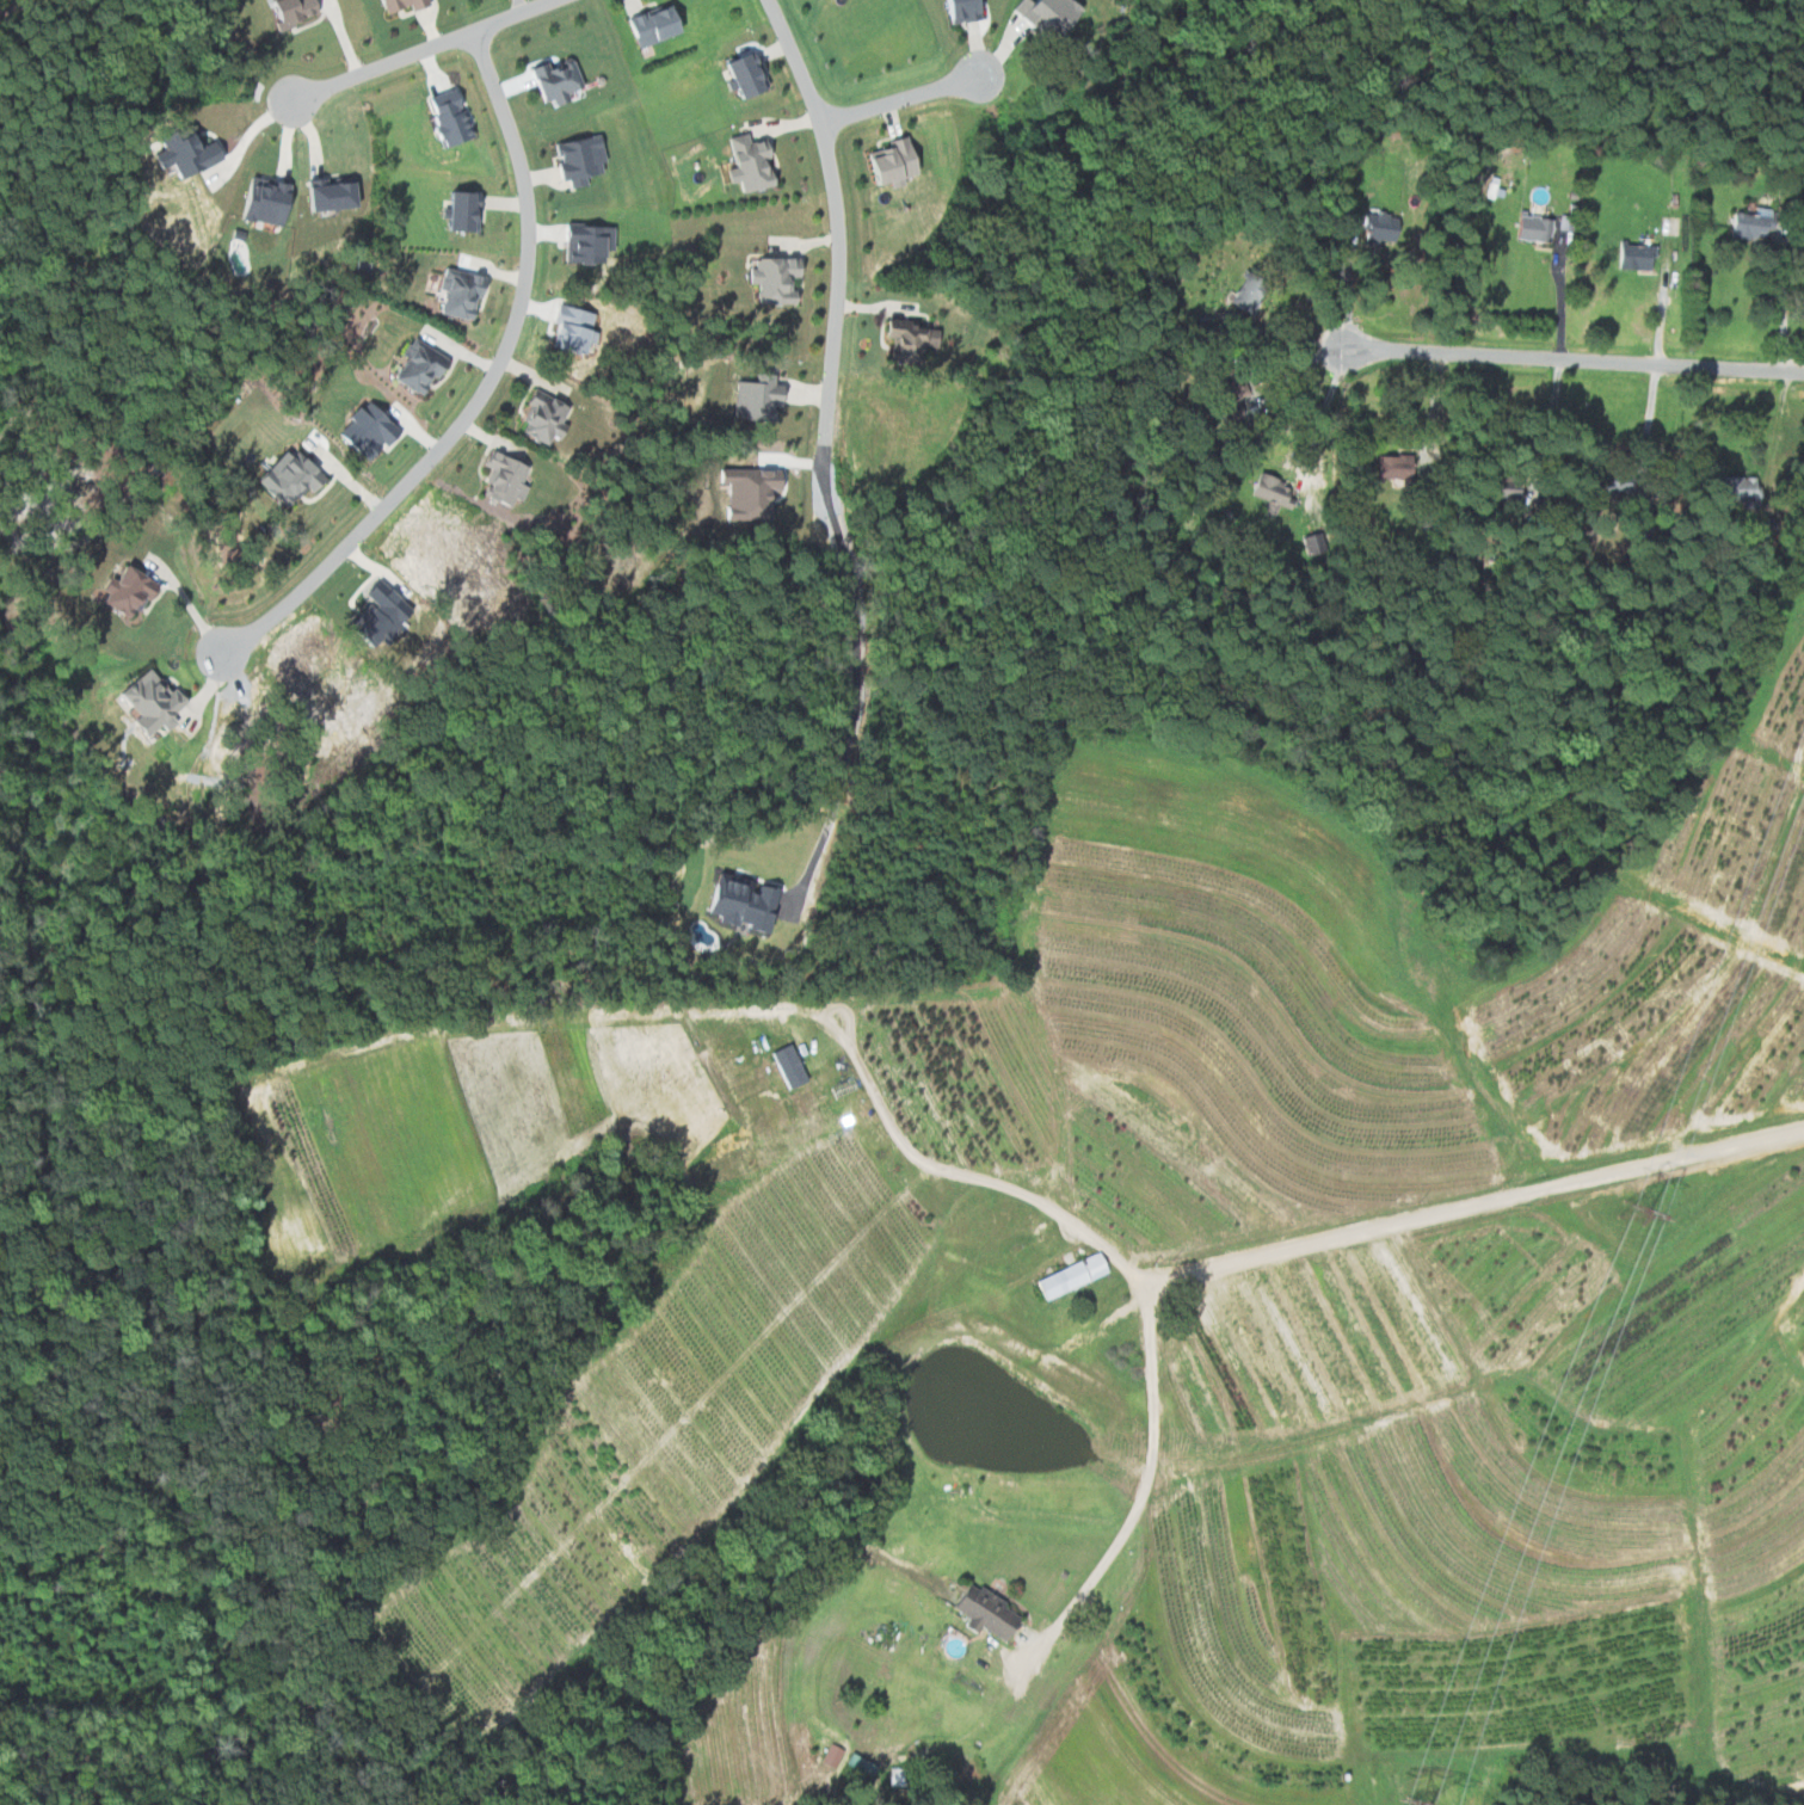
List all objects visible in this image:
building: (411, 5)
building: (968, 11)
building: (297, 12)
building: (1054, 14)
building: (660, 25)
road: (426, 50)
building: (562, 81)
road: (897, 99)
building: (193, 153)
building: (586, 159)
building: (900, 161)
building: (756, 164)
building: (341, 195)
building: (271, 202)
building: (472, 212)
building: (1747, 224)
building: (1529, 228)
building: (592, 244)
road: (835, 250)
building: (1632, 257)
building: (782, 281)
road: (1346, 285)
road: (1560, 296)
road: (1662, 300)
road: (1783, 316)
road: (1287, 335)
building: (916, 341)
road: (1574, 361)
building: (425, 368)
road: (1294, 372)
road: (482, 392)
building: (763, 399)
road: (1325, 411)
road: (1434, 415)
building: (549, 417)
road: (1649, 426)
road: (1545, 464)
building: (1393, 467)
building: (297, 478)
building: (510, 479)
building: (1732, 487)
building: (1268, 491)
building: (134, 592)
road: (192, 608)
building: (158, 702)
road: (846, 707)
building: (795, 1065)
road: (984, 1178)
road: (1495, 1201)
power tower: (1630, 1212)
building: (1078, 1275)
road: (1149, 1481)
building: (991, 1612)
building: (836, 1755)
building: (903, 1776)

